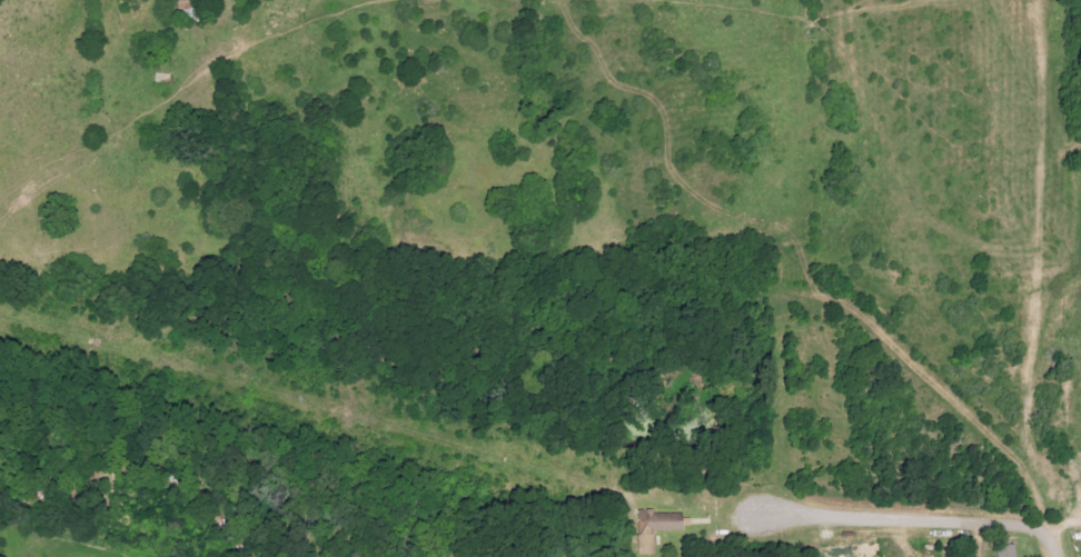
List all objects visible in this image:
road: (861, 516)
building: (653, 528)
road: (1051, 544)

